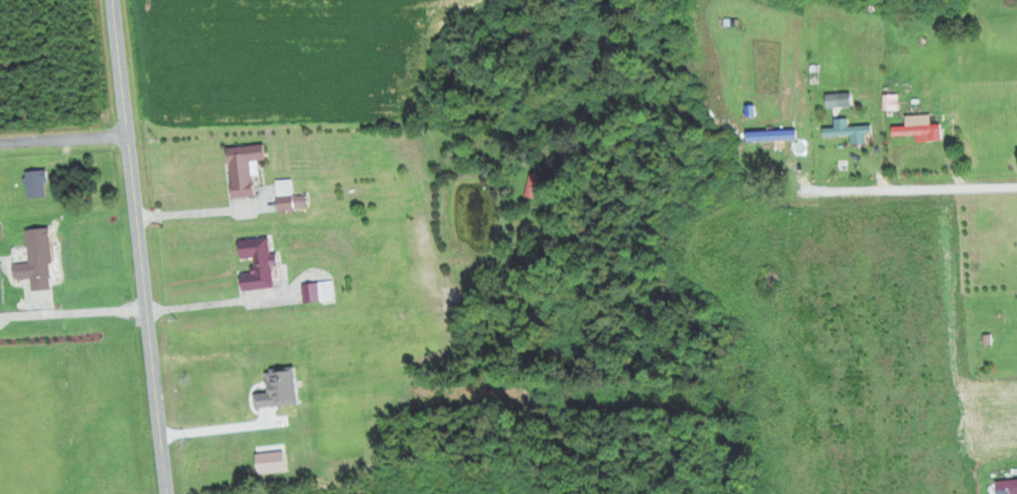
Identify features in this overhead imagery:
building: (838, 100)
building: (845, 129)
building: (916, 130)
road: (64, 138)
building: (242, 168)
building: (35, 184)
building: (531, 185)
building: (287, 196)
road: (140, 247)
building: (35, 261)
building: (256, 263)
building: (766, 276)
building: (317, 292)
road: (157, 303)
building: (218, 389)

